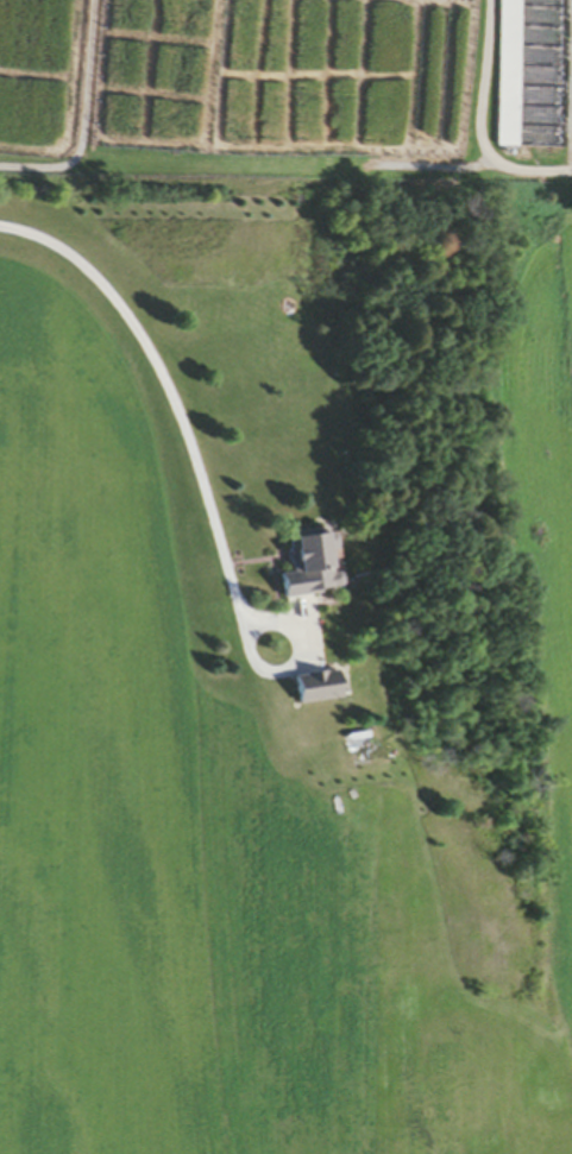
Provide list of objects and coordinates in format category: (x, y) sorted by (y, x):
road: (151, 374)
building: (316, 567)
building: (322, 690)

